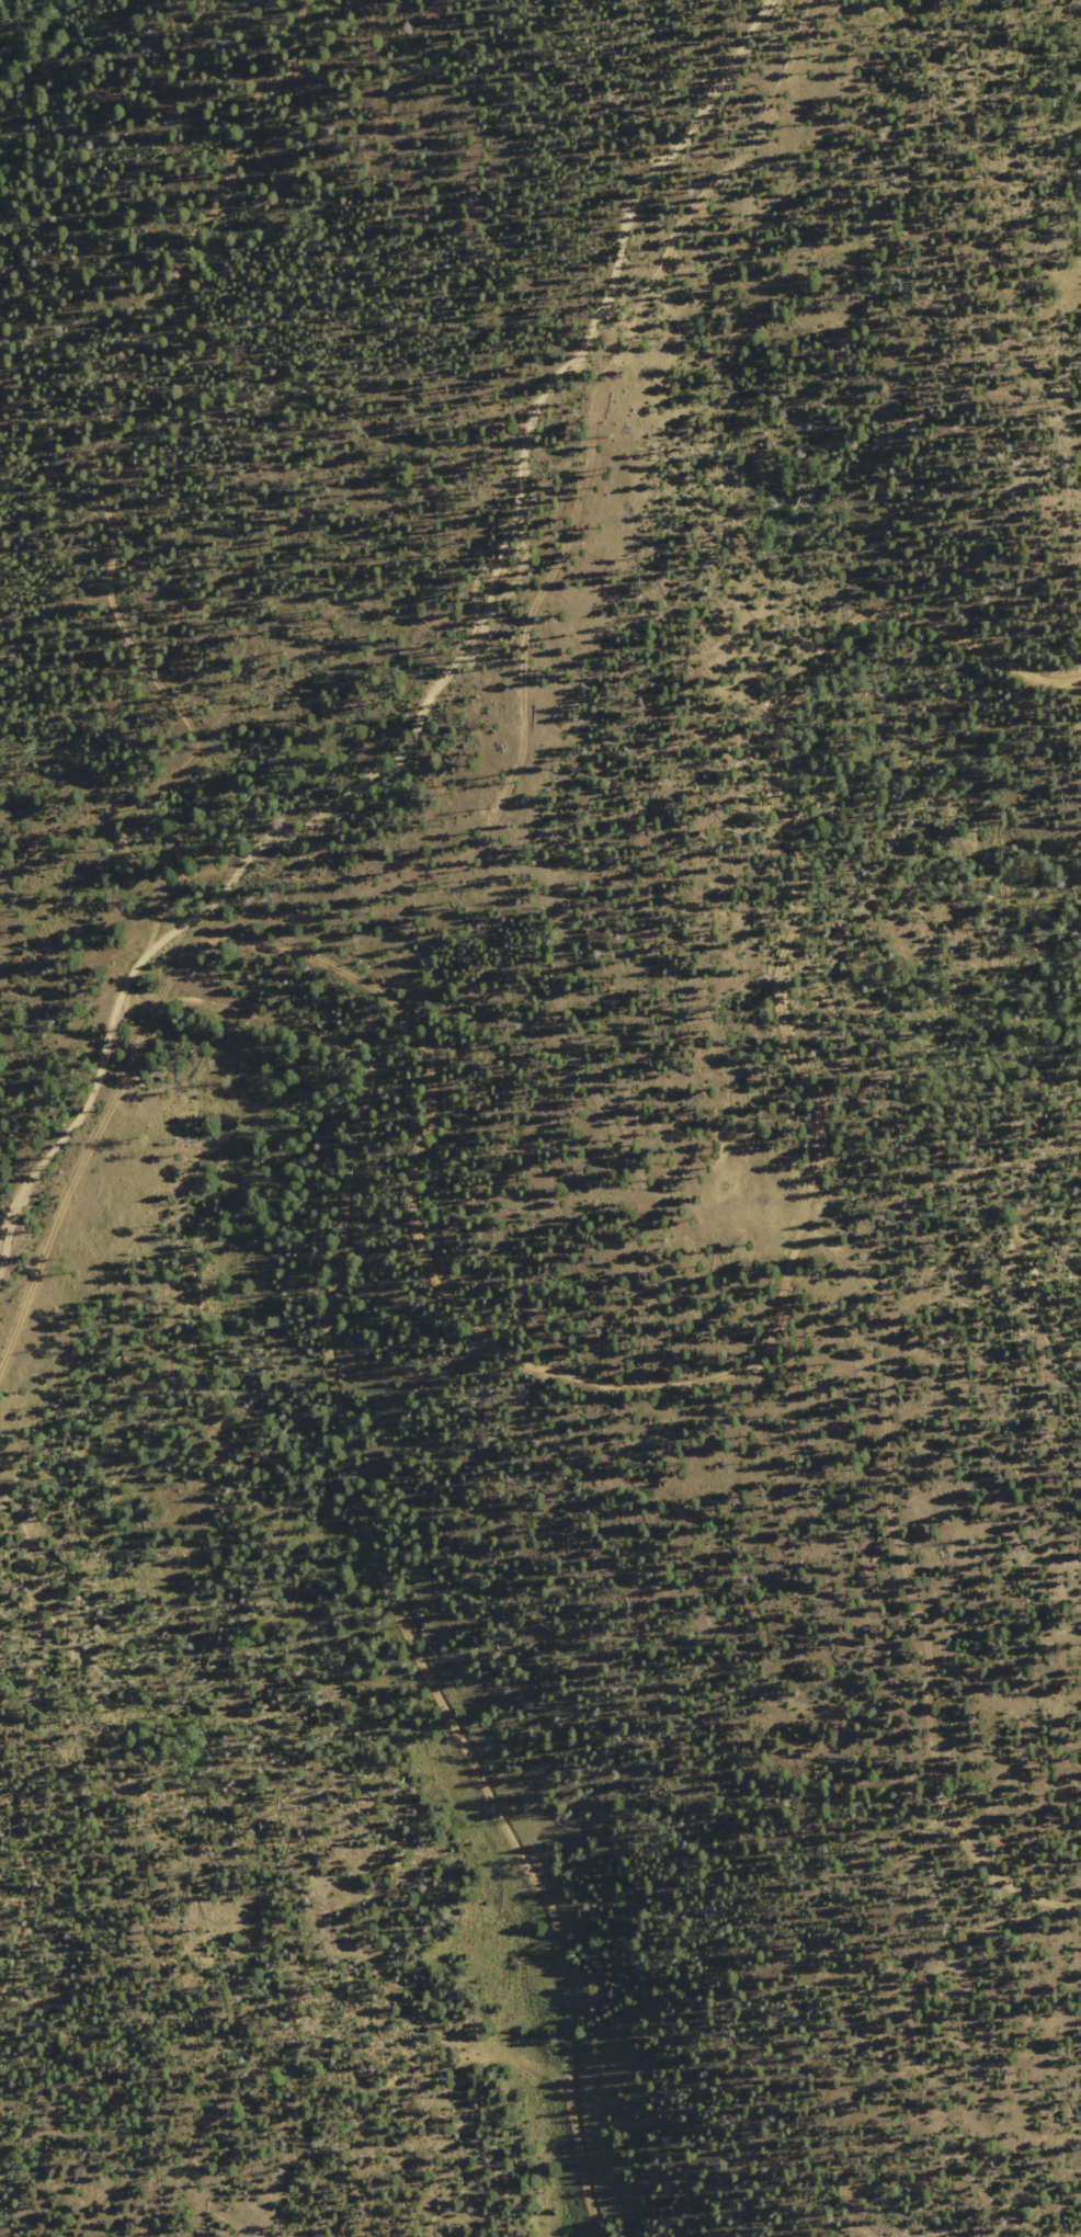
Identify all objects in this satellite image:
road: (88, 444)
road: (493, 592)
road: (813, 894)
road: (57, 1228)

